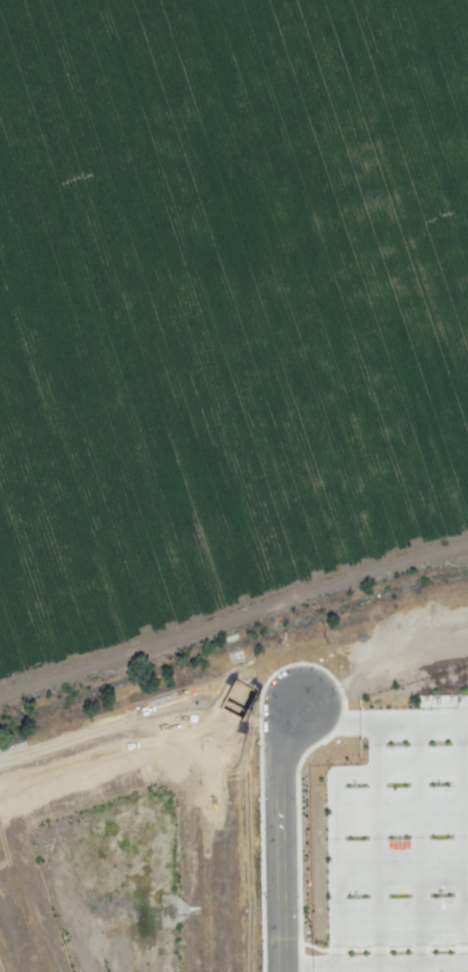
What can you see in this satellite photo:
road: (380, 725)
road: (278, 837)
road: (376, 848)
road: (374, 967)

